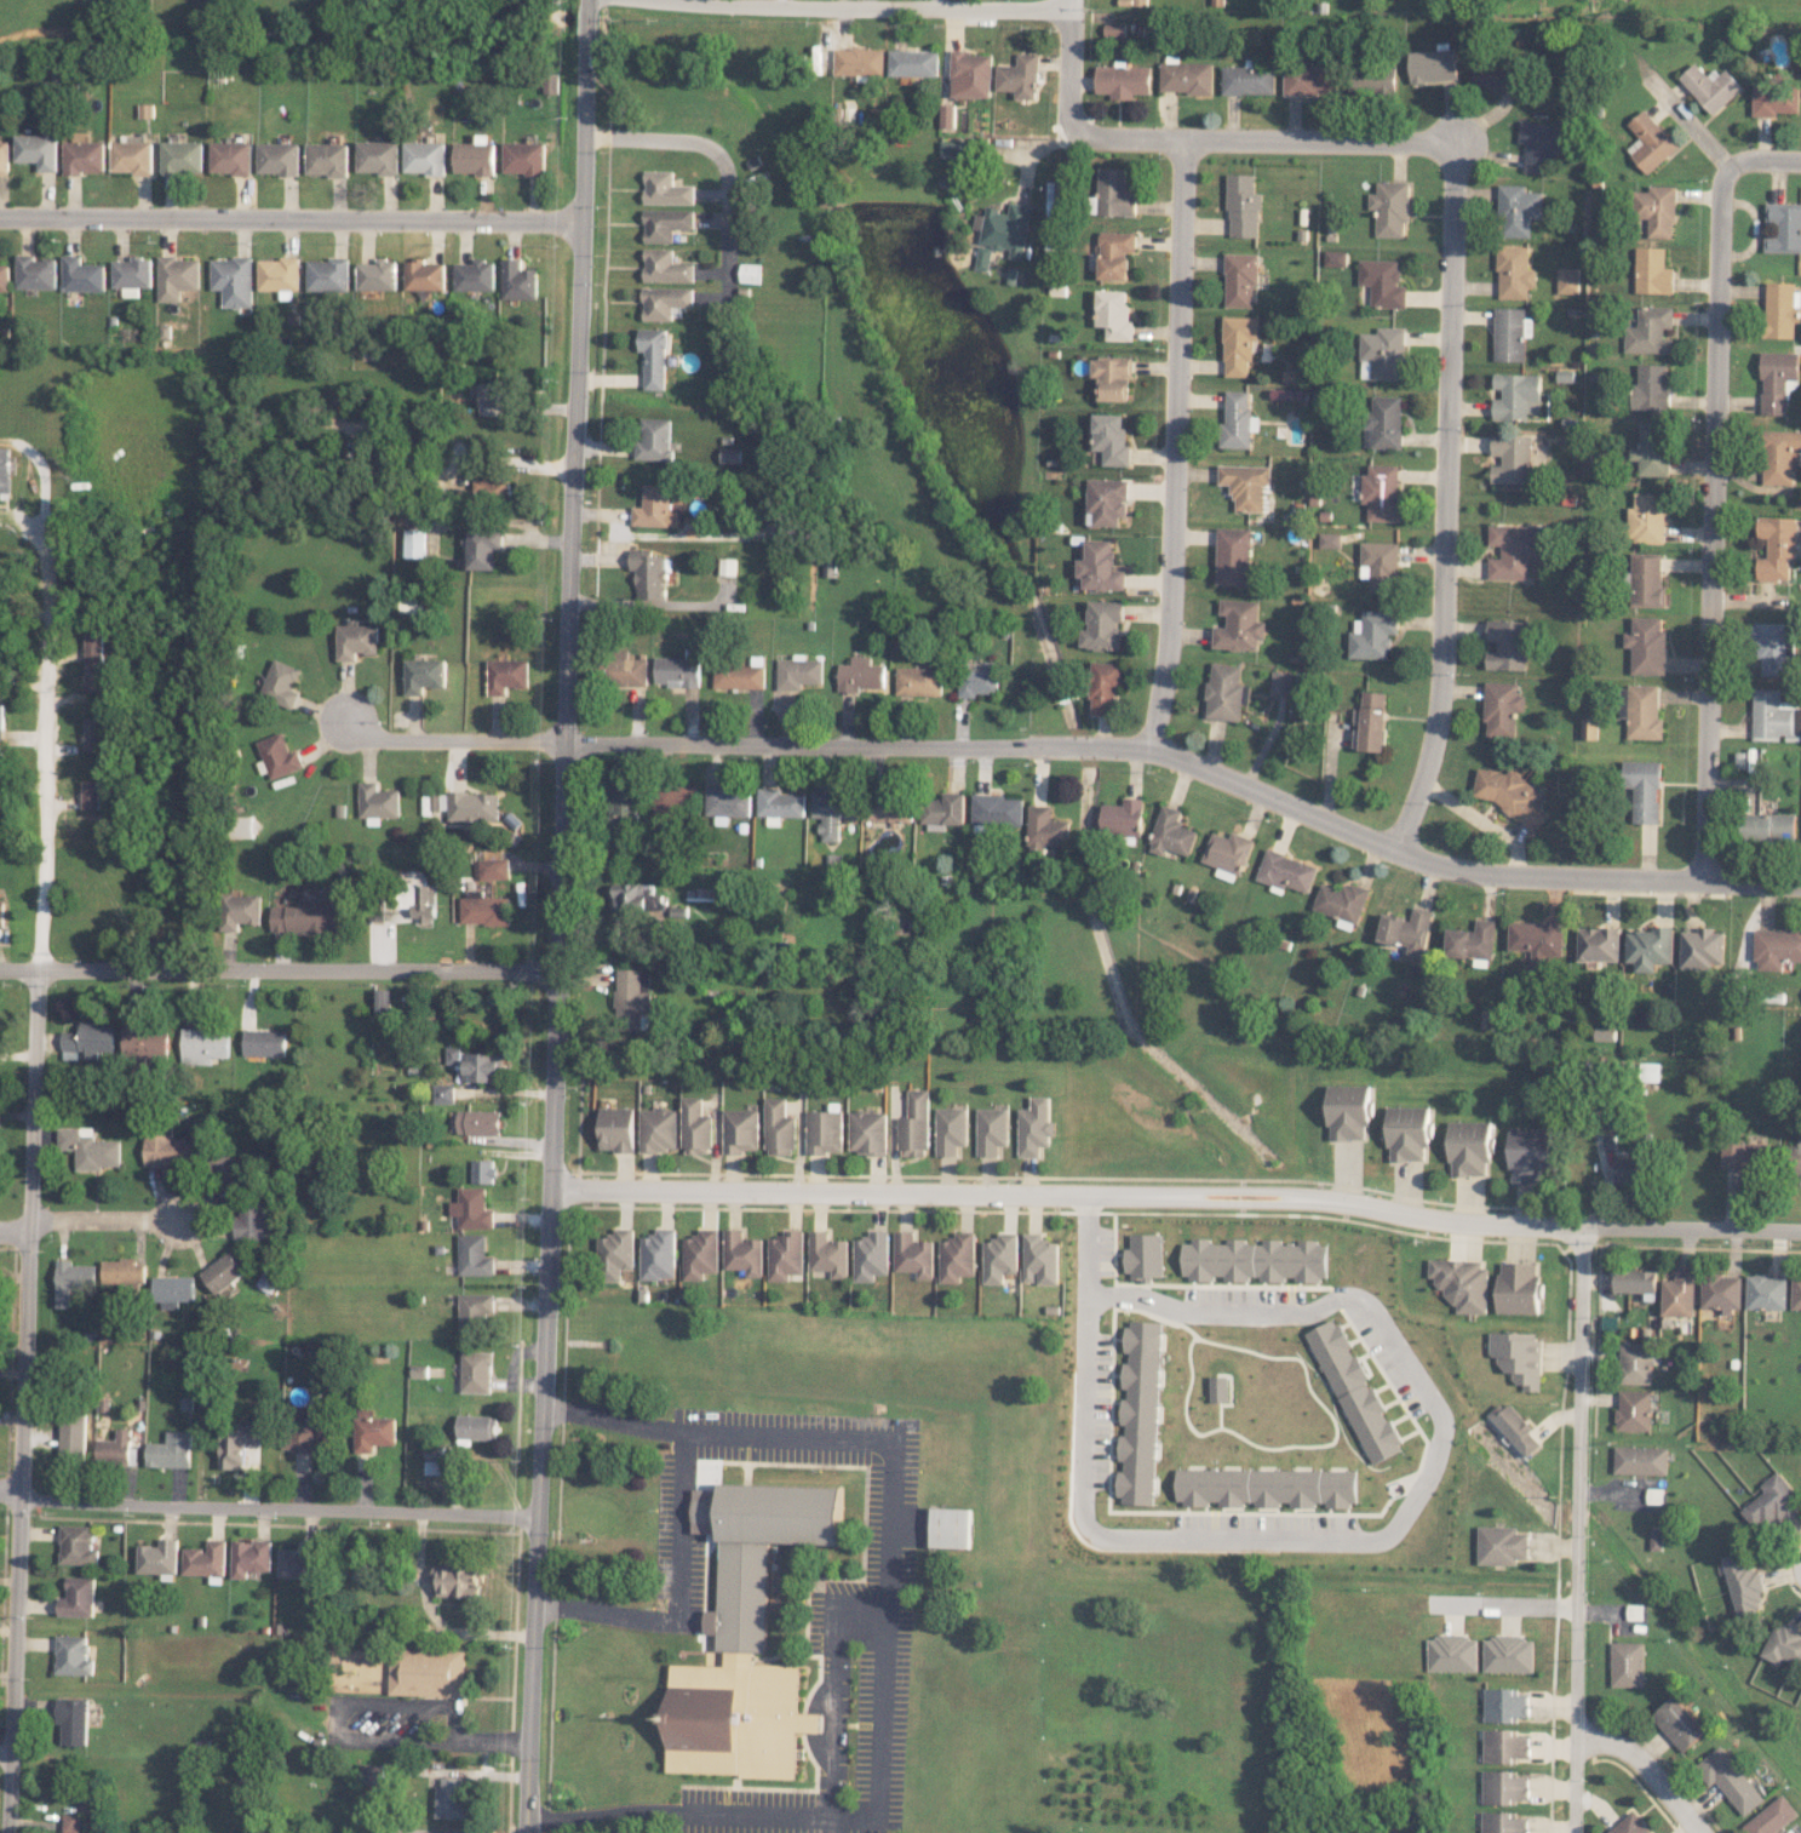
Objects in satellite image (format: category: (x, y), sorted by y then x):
building: (1132, 2)
road: (867, 8)
building: (1114, 29)
building: (859, 61)
building: (913, 62)
building: (1432, 65)
road: (1068, 67)
building: (1501, 73)
building: (970, 74)
building: (1019, 76)
building: (1186, 76)
building: (1247, 80)
building: (1309, 80)
building: (1123, 81)
building: (1372, 81)
building: (1711, 86)
building: (1773, 98)
building: (947, 116)
road: (1262, 139)
building: (1651, 142)
building: (1541, 144)
building: (954, 148)
building: (39, 150)
building: (5, 156)
building: (86, 156)
building: (133, 156)
building: (184, 156)
building: (379, 156)
building: (233, 157)
building: (425, 157)
building: (475, 157)
building: (524, 157)
building: (280, 159)
building: (328, 159)
road: (723, 159)
road: (1762, 159)
building: (665, 189)
building: (1114, 194)
building: (1056, 199)
building: (1243, 206)
building: (1390, 207)
building: (1518, 210)
building: (1658, 210)
road: (292, 218)
building: (665, 223)
building: (1783, 227)
building: (1005, 228)
building: (1114, 253)
building: (983, 257)
building: (1335, 258)
building: (665, 267)
building: (1514, 271)
building: (1653, 271)
building: (36, 273)
building: (748, 273)
building: (279, 274)
building: (328, 274)
building: (379, 274)
building: (82, 275)
building: (133, 275)
building: (425, 275)
building: (476, 275)
building: (178, 276)
building: (5, 277)
building: (1240, 279)
building: (234, 280)
building: (518, 280)
building: (1567, 280)
building: (1382, 282)
building: (664, 302)
building: (1782, 309)
building: (1113, 314)
building: (1650, 331)
building: (1510, 333)
building: (1238, 343)
building: (1382, 354)
building: (653, 356)
building: (1112, 377)
building: (1778, 379)
building: (1651, 388)
building: (1515, 395)
building: (494, 399)
building: (1237, 419)
building: (1383, 422)
building: (1109, 439)
building: (655, 440)
road: (1174, 445)
building: (1652, 451)
building: (730, 454)
building: (1779, 456)
building: (1512, 458)
building: (4, 470)
building: (1245, 485)
building: (492, 488)
building: (1381, 492)
building: (1106, 500)
road: (1445, 500)
building: (654, 506)
building: (1647, 519)
road: (1713, 525)
building: (1329, 539)
building: (414, 546)
building: (1777, 546)
building: (484, 548)
building: (1515, 550)
building: (1233, 556)
building: (1100, 566)
building: (1380, 566)
building: (648, 572)
building: (1647, 579)
building: (1101, 625)
building: (1238, 625)
building: (1372, 634)
building: (357, 640)
building: (1505, 645)
building: (1646, 645)
building: (1774, 647)
building: (2, 652)
building: (627, 669)
building: (677, 671)
building: (798, 671)
building: (425, 675)
building: (506, 675)
building: (860, 675)
building: (739, 676)
building: (977, 680)
building: (94, 681)
building: (918, 681)
building: (1279, 682)
building: (281, 683)
building: (1103, 686)
building: (1224, 692)
building: (1501, 709)
building: (1644, 711)
building: (1772, 716)
building: (1, 720)
building: (1371, 721)
building: (1589, 728)
building: (92, 733)
road: (437, 739)
road: (1191, 763)
building: (1644, 789)
building: (91, 794)
building: (1509, 794)
building: (624, 797)
building: (675, 798)
building: (378, 801)
building: (438, 801)
building: (727, 803)
building: (779, 804)
building: (4, 806)
building: (472, 806)
building: (888, 808)
building: (997, 809)
building: (828, 810)
building: (943, 810)
building: (1122, 817)
building: (1767, 826)
building: (241, 827)
building: (1044, 829)
building: (1170, 832)
building: (1226, 854)
building: (491, 869)
building: (1285, 871)
building: (636, 897)
building: (1340, 901)
building: (484, 910)
building: (240, 911)
building: (1, 913)
road: (558, 916)
building: (306, 917)
building: (1405, 930)
building: (1536, 939)
building: (1470, 940)
building: (1598, 944)
building: (1648, 947)
building: (1700, 947)
building: (1776, 947)
road: (277, 969)
building: (632, 993)
building: (382, 1001)
building: (1604, 1033)
building: (88, 1041)
building: (145, 1042)
building: (265, 1042)
building: (205, 1044)
building: (476, 1065)
building: (1648, 1071)
building: (443, 1093)
building: (1348, 1112)
building: (478, 1122)
building: (914, 1125)
building: (695, 1127)
building: (1034, 1127)
building: (779, 1128)
building: (616, 1129)
building: (658, 1129)
building: (741, 1130)
building: (951, 1130)
building: (992, 1130)
building: (825, 1132)
building: (868, 1132)
building: (1406, 1133)
building: (91, 1149)
building: (1469, 1149)
building: (170, 1150)
building: (1799, 1153)
building: (1527, 1155)
building: (1745, 1155)
building: (224, 1164)
building: (1627, 1169)
building: (482, 1170)
road: (28, 1175)
road: (1175, 1197)
building: (471, 1208)
road: (115, 1219)
building: (249, 1221)
road: (13, 1230)
building: (615, 1251)
building: (742, 1253)
building: (658, 1254)
building: (700, 1254)
building: (827, 1254)
building: (913, 1254)
building: (474, 1255)
building: (785, 1255)
building: (871, 1255)
building: (957, 1256)
building: (999, 1258)
building: (1143, 1258)
building: (1040, 1259)
building: (1256, 1260)
building: (124, 1272)
building: (223, 1272)
building: (268, 1278)
building: (73, 1279)
building: (1636, 1282)
building: (1462, 1283)
building: (1518, 1287)
building: (172, 1290)
building: (1766, 1291)
building: (1722, 1293)
building: (1796, 1293)
building: (1679, 1294)
building: (474, 1311)
building: (1518, 1357)
building: (1635, 1363)
building: (475, 1371)
building: (1217, 1388)
building: (1357, 1393)
building: (1633, 1409)
building: (1137, 1413)
building: (1514, 1427)
building: (475, 1428)
building: (373, 1432)
building: (302, 1437)
building: (71, 1440)
building: (237, 1442)
building: (114, 1449)
building: (170, 1450)
building: (432, 1453)
building: (1640, 1460)
building: (431, 1466)
building: (1264, 1487)
road: (10, 1491)
building: (1772, 1502)
road: (277, 1508)
road: (686, 1524)
building: (952, 1526)
road: (1577, 1529)
road: (1349, 1541)
building: (78, 1545)
building: (1501, 1545)
road: (887, 1552)
building: (159, 1557)
building: (251, 1557)
building: (206, 1559)
building: (299, 1560)
road: (1795, 1564)
building: (455, 1580)
building: (1743, 1585)
building: (78, 1597)
building: (750, 1633)
building: (1784, 1644)
building: (1452, 1652)
building: (1508, 1654)
building: (74, 1655)
building: (1628, 1663)
building: (428, 1672)
building: (1504, 1705)
building: (73, 1720)
building: (1679, 1723)
building: (1504, 1746)
road: (6, 1747)
road: (1646, 1768)
building: (1730, 1778)
building: (1503, 1786)
building: (451, 1797)
road: (689, 1811)
building: (1772, 1816)
building: (70, 1822)
building: (1502, 1822)
building: (1630, 1825)

